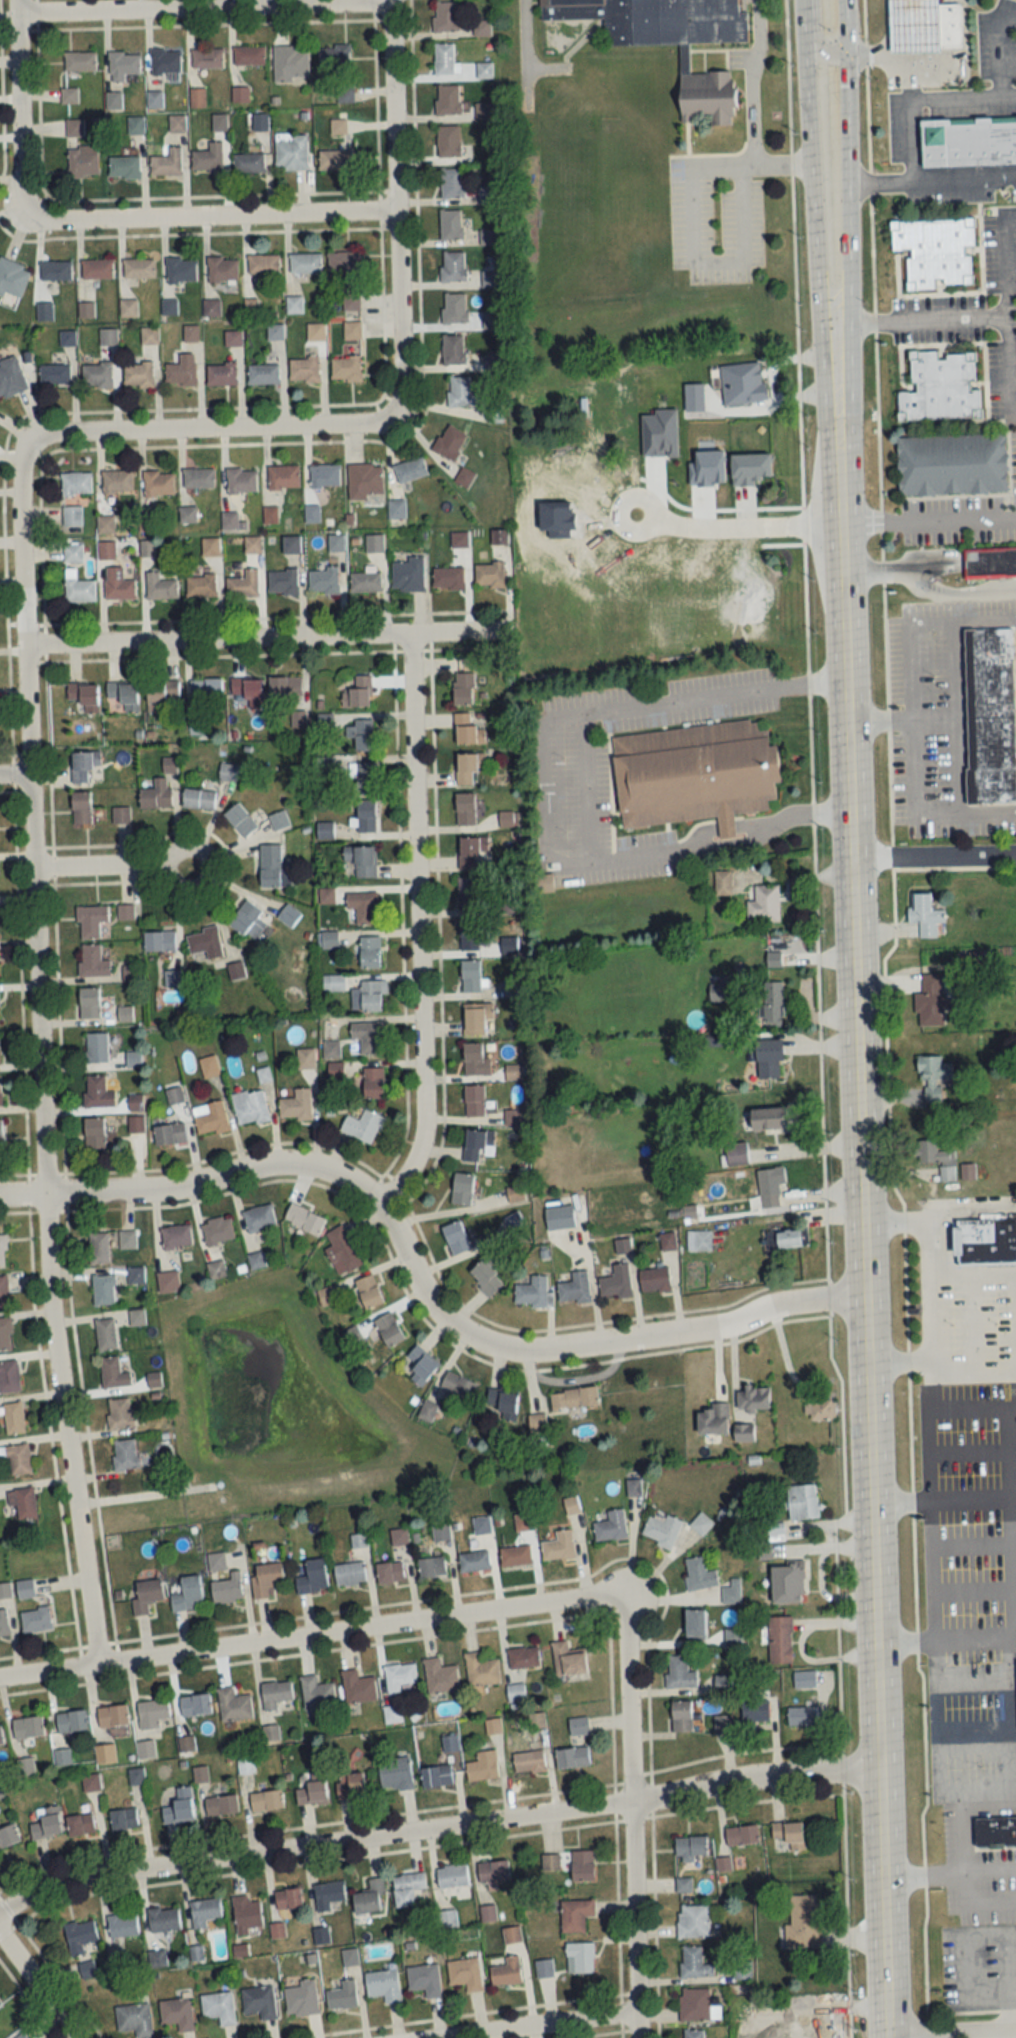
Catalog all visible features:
road: (201, 8)
road: (803, 13)
road: (38, 14)
building: (445, 16)
building: (659, 18)
building: (948, 24)
building: (914, 26)
building: (481, 28)
road: (581, 38)
road: (818, 45)
road: (997, 47)
road: (894, 50)
road: (530, 53)
building: (249, 56)
building: (207, 58)
building: (335, 59)
building: (443, 59)
building: (79, 61)
building: (165, 61)
building: (290, 64)
building: (123, 65)
road: (550, 66)
road: (753, 78)
building: (708, 93)
building: (239, 94)
building: (69, 95)
building: (197, 97)
building: (449, 99)
building: (113, 100)
building: (154, 100)
building: (483, 110)
road: (15, 115)
building: (220, 121)
building: (260, 121)
building: (177, 123)
building: (338, 125)
building: (74, 126)
road: (907, 137)
building: (448, 140)
building: (968, 140)
building: (291, 151)
road: (843, 157)
building: (208, 158)
building: (334, 158)
road: (750, 159)
building: (83, 160)
building: (167, 162)
building: (248, 162)
building: (124, 166)
road: (810, 169)
road: (877, 180)
building: (451, 181)
building: (486, 194)
road: (392, 205)
road: (216, 216)
building: (450, 223)
building: (934, 251)
building: (263, 263)
building: (305, 263)
road: (720, 263)
building: (452, 266)
building: (97, 267)
building: (138, 267)
building: (345, 267)
building: (222, 268)
building: (181, 269)
building: (55, 270)
building: (13, 277)
building: (293, 304)
building: (169, 306)
building: (211, 307)
building: (453, 307)
building: (44, 311)
road: (972, 312)
building: (351, 330)
building: (274, 331)
building: (190, 332)
building: (315, 332)
building: (149, 334)
building: (107, 336)
building: (66, 337)
building: (233, 337)
building: (452, 349)
building: (345, 367)
building: (304, 369)
building: (181, 370)
road: (1003, 371)
building: (54, 373)
building: (220, 373)
building: (262, 373)
building: (96, 374)
building: (137, 374)
building: (11, 376)
building: (641, 384)
building: (941, 385)
building: (461, 392)
building: (688, 410)
building: (494, 413)
road: (216, 426)
building: (449, 442)
building: (950, 463)
building: (410, 469)
building: (324, 475)
building: (283, 476)
building: (198, 477)
building: (464, 477)
building: (116, 480)
building: (241, 480)
building: (364, 480)
building: (75, 483)
building: (158, 483)
building: (396, 508)
building: (71, 516)
road: (926, 519)
building: (229, 520)
road: (735, 521)
building: (105, 524)
building: (498, 536)
building: (373, 542)
building: (251, 543)
building: (290, 544)
building: (209, 546)
building: (106, 550)
building: (72, 552)
building: (989, 562)
building: (408, 574)
building: (489, 574)
building: (448, 577)
building: (322, 579)
building: (282, 581)
building: (365, 581)
road: (926, 583)
building: (118, 584)
building: (242, 584)
building: (200, 585)
building: (159, 586)
building: (78, 589)
road: (985, 620)
road: (261, 640)
road: (956, 680)
building: (284, 685)
building: (206, 688)
building: (462, 688)
building: (247, 690)
building: (160, 692)
building: (358, 692)
building: (124, 693)
building: (84, 695)
building: (994, 714)
building: (297, 718)
building: (467, 729)
building: (361, 734)
building: (85, 766)
building: (468, 766)
building: (227, 771)
building: (694, 773)
road: (14, 777)
building: (361, 778)
road: (544, 791)
road: (584, 794)
building: (156, 795)
building: (198, 798)
road: (844, 799)
building: (80, 807)
building: (464, 809)
road: (988, 813)
building: (120, 814)
building: (365, 815)
building: (239, 819)
building: (278, 820)
building: (471, 851)
road: (931, 855)
road: (167, 858)
building: (361, 859)
building: (269, 865)
building: (722, 882)
building: (467, 892)
building: (763, 903)
building: (362, 906)
building: (923, 913)
building: (90, 920)
building: (124, 920)
road: (416, 926)
building: (469, 934)
building: (159, 940)
building: (204, 942)
building: (369, 952)
building: (92, 961)
building: (235, 970)
building: (470, 975)
building: (172, 978)
building: (510, 988)
building: (721, 992)
building: (368, 995)
building: (931, 1000)
building: (89, 1002)
building: (772, 1003)
building: (124, 1013)
building: (475, 1018)
road: (819, 1022)
building: (366, 1036)
building: (95, 1047)
road: (37, 1054)
building: (305, 1058)
building: (769, 1058)
building: (475, 1060)
building: (208, 1066)
building: (933, 1075)
building: (372, 1082)
building: (0, 1090)
building: (97, 1091)
building: (173, 1095)
building: (474, 1099)
building: (135, 1102)
building: (296, 1105)
building: (249, 1106)
building: (209, 1118)
building: (769, 1118)
building: (135, 1123)
building: (363, 1125)
building: (94, 1132)
building: (169, 1133)
building: (0, 1134)
building: (476, 1142)
building: (737, 1153)
building: (936, 1157)
building: (967, 1171)
building: (770, 1185)
building: (463, 1189)
building: (515, 1194)
road: (969, 1202)
building: (559, 1217)
building: (258, 1218)
building: (304, 1219)
building: (513, 1220)
building: (217, 1230)
building: (175, 1236)
building: (455, 1237)
building: (126, 1238)
building: (784, 1238)
building: (698, 1240)
building: (667, 1241)
building: (986, 1241)
building: (97, 1247)
building: (342, 1250)
building: (2, 1251)
building: (135, 1274)
building: (486, 1278)
building: (654, 1279)
building: (167, 1281)
road: (416, 1281)
building: (616, 1282)
road: (932, 1286)
building: (574, 1288)
building: (102, 1289)
building: (368, 1291)
building: (3, 1292)
building: (533, 1293)
building: (136, 1317)
road: (862, 1324)
building: (388, 1329)
building: (5, 1334)
building: (105, 1334)
road: (1013, 1340)
road: (974, 1362)
building: (420, 1365)
building: (112, 1374)
building: (9, 1376)
building: (458, 1387)
building: (753, 1398)
building: (574, 1399)
building: (504, 1403)
building: (819, 1410)
building: (118, 1414)
building: (12, 1419)
building: (714, 1419)
building: (743, 1432)
building: (124, 1455)
building: (17, 1459)
building: (633, 1487)
road: (968, 1500)
building: (802, 1501)
building: (22, 1502)
building: (571, 1505)
building: (701, 1523)
building: (482, 1525)
building: (611, 1526)
building: (662, 1530)
building: (445, 1531)
building: (558, 1546)
building: (515, 1556)
building: (474, 1561)
building: (432, 1567)
building: (349, 1573)
building: (390, 1573)
building: (699, 1574)
building: (266, 1577)
building: (313, 1577)
building: (786, 1585)
building: (25, 1589)
building: (226, 1590)
building: (731, 1592)
building: (187, 1594)
building: (146, 1596)
building: (35, 1620)
building: (3, 1623)
building: (695, 1625)
road: (307, 1634)
road: (944, 1634)
building: (732, 1637)
building: (779, 1640)
road: (941, 1650)
building: (523, 1658)
building: (567, 1660)
building: (481, 1670)
building: (679, 1673)
building: (399, 1677)
building: (440, 1677)
building: (804, 1679)
building: (357, 1688)
building: (316, 1693)
building: (276, 1696)
road: (874, 1697)
building: (195, 1705)
building: (233, 1705)
building: (152, 1713)
building: (754, 1713)
building: (112, 1716)
building: (681, 1716)
building: (802, 1716)
building: (71, 1721)
building: (722, 1724)
building: (493, 1726)
building: (578, 1726)
building: (27, 1727)
building: (1, 1737)
road: (981, 1738)
building: (449, 1743)
building: (185, 1744)
building: (145, 1749)
building: (104, 1753)
building: (62, 1757)
building: (572, 1758)
building: (529, 1762)
building: (245, 1764)
building: (25, 1766)
building: (483, 1767)
building: (394, 1774)
building: (0, 1775)
building: (135, 1775)
building: (436, 1776)
building: (90, 1782)
building: (350, 1785)
building: (312, 1793)
building: (266, 1801)
road: (983, 1804)
building: (220, 1806)
building: (179, 1807)
road: (631, 1814)
building: (123, 1819)
building: (46, 1824)
building: (80, 1824)
road: (435, 1828)
building: (995, 1833)
building: (741, 1835)
building: (8, 1836)
building: (787, 1836)
building: (690, 1847)
building: (550, 1865)
building: (582, 1866)
building: (493, 1872)
building: (451, 1876)
road: (956, 1884)
building: (406, 1888)
building: (328, 1894)
building: (369, 1898)
building: (287, 1899)
building: (204, 1912)
building: (246, 1915)
building: (575, 1916)
building: (163, 1920)
building: (693, 1922)
building: (803, 1922)
building: (122, 1927)
building: (79, 1936)
building: (579, 1958)
building: (693, 1963)
building: (543, 1968)
building: (88, 1969)
building: (506, 1972)
building: (465, 1974)
building: (424, 1979)
road: (926, 1981)
building: (383, 1985)
road: (36, 1987)
building: (342, 1995)
building: (300, 1999)
building: (259, 2002)
building: (0, 2004)
building: (694, 2004)
building: (218, 2008)
building: (177, 2014)
building: (134, 2019)
road: (535, 2025)
road: (950, 2030)
building: (692, 2033)
building: (20, 2036)

